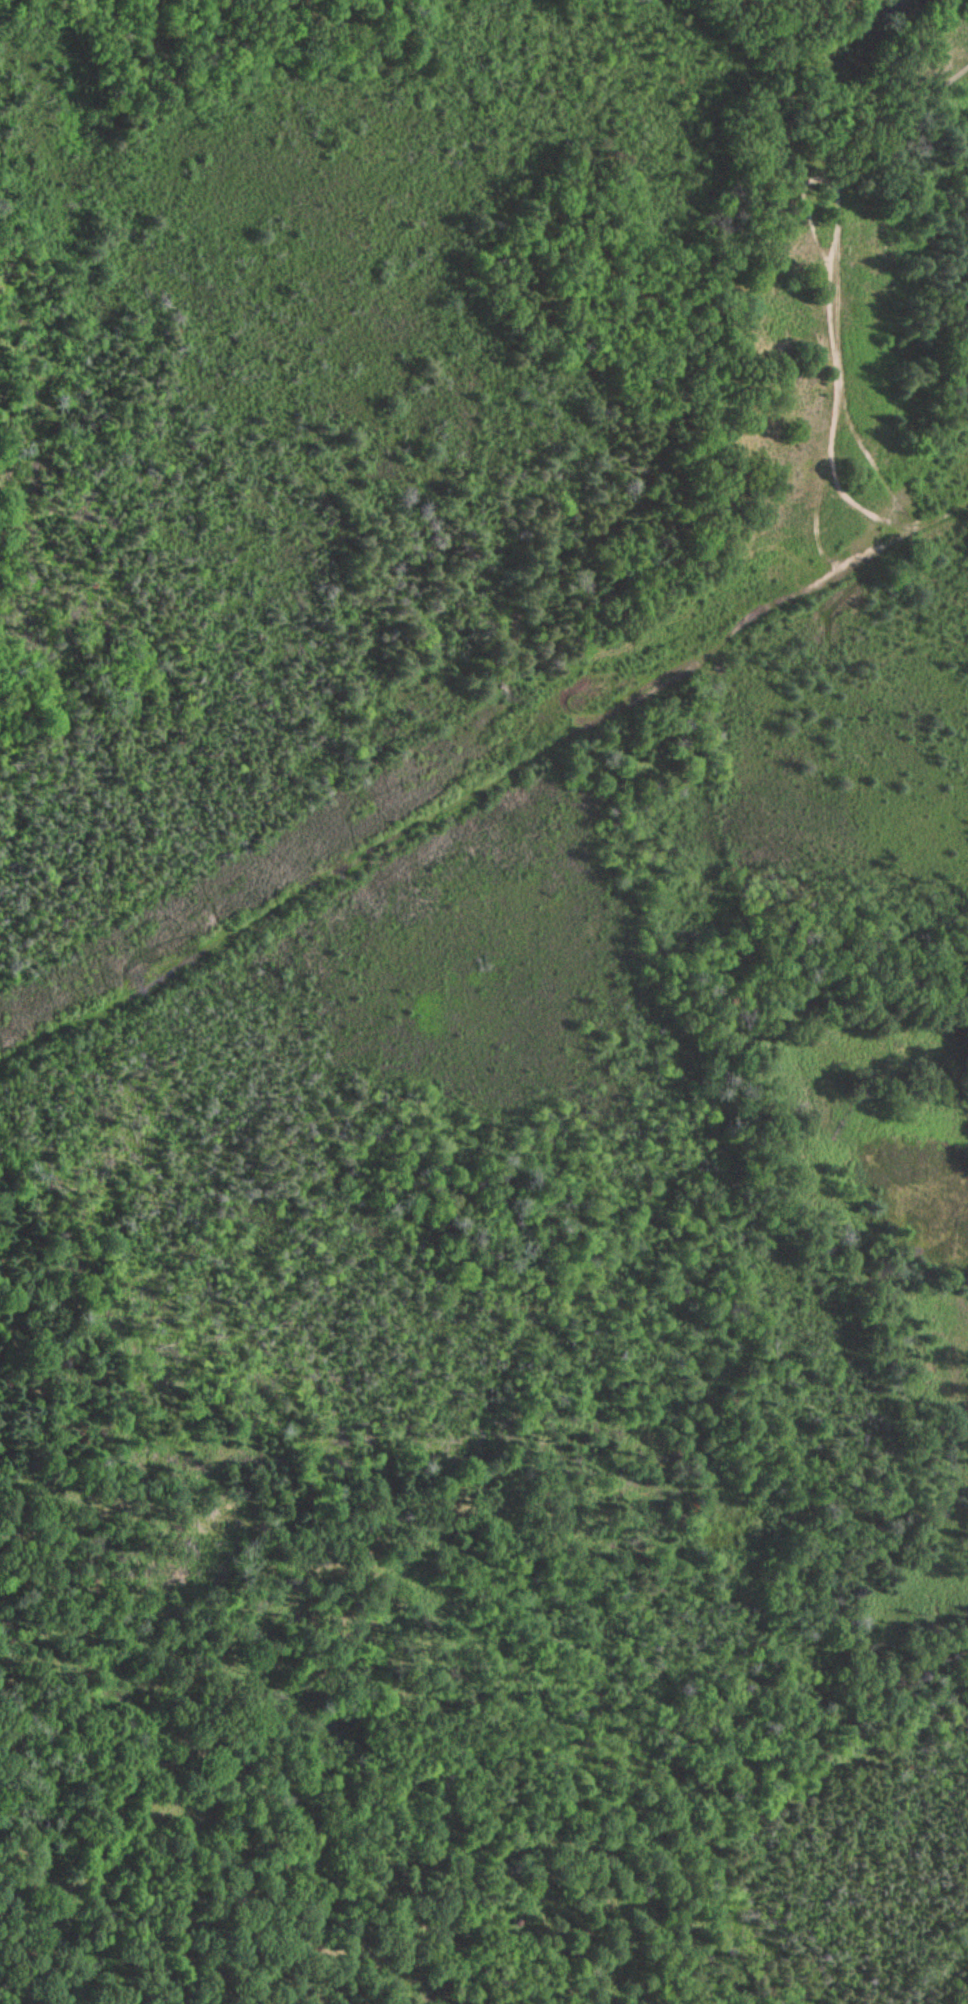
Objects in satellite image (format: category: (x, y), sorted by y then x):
road: (953, 88)
road: (820, 246)
road: (828, 324)
road: (819, 553)

